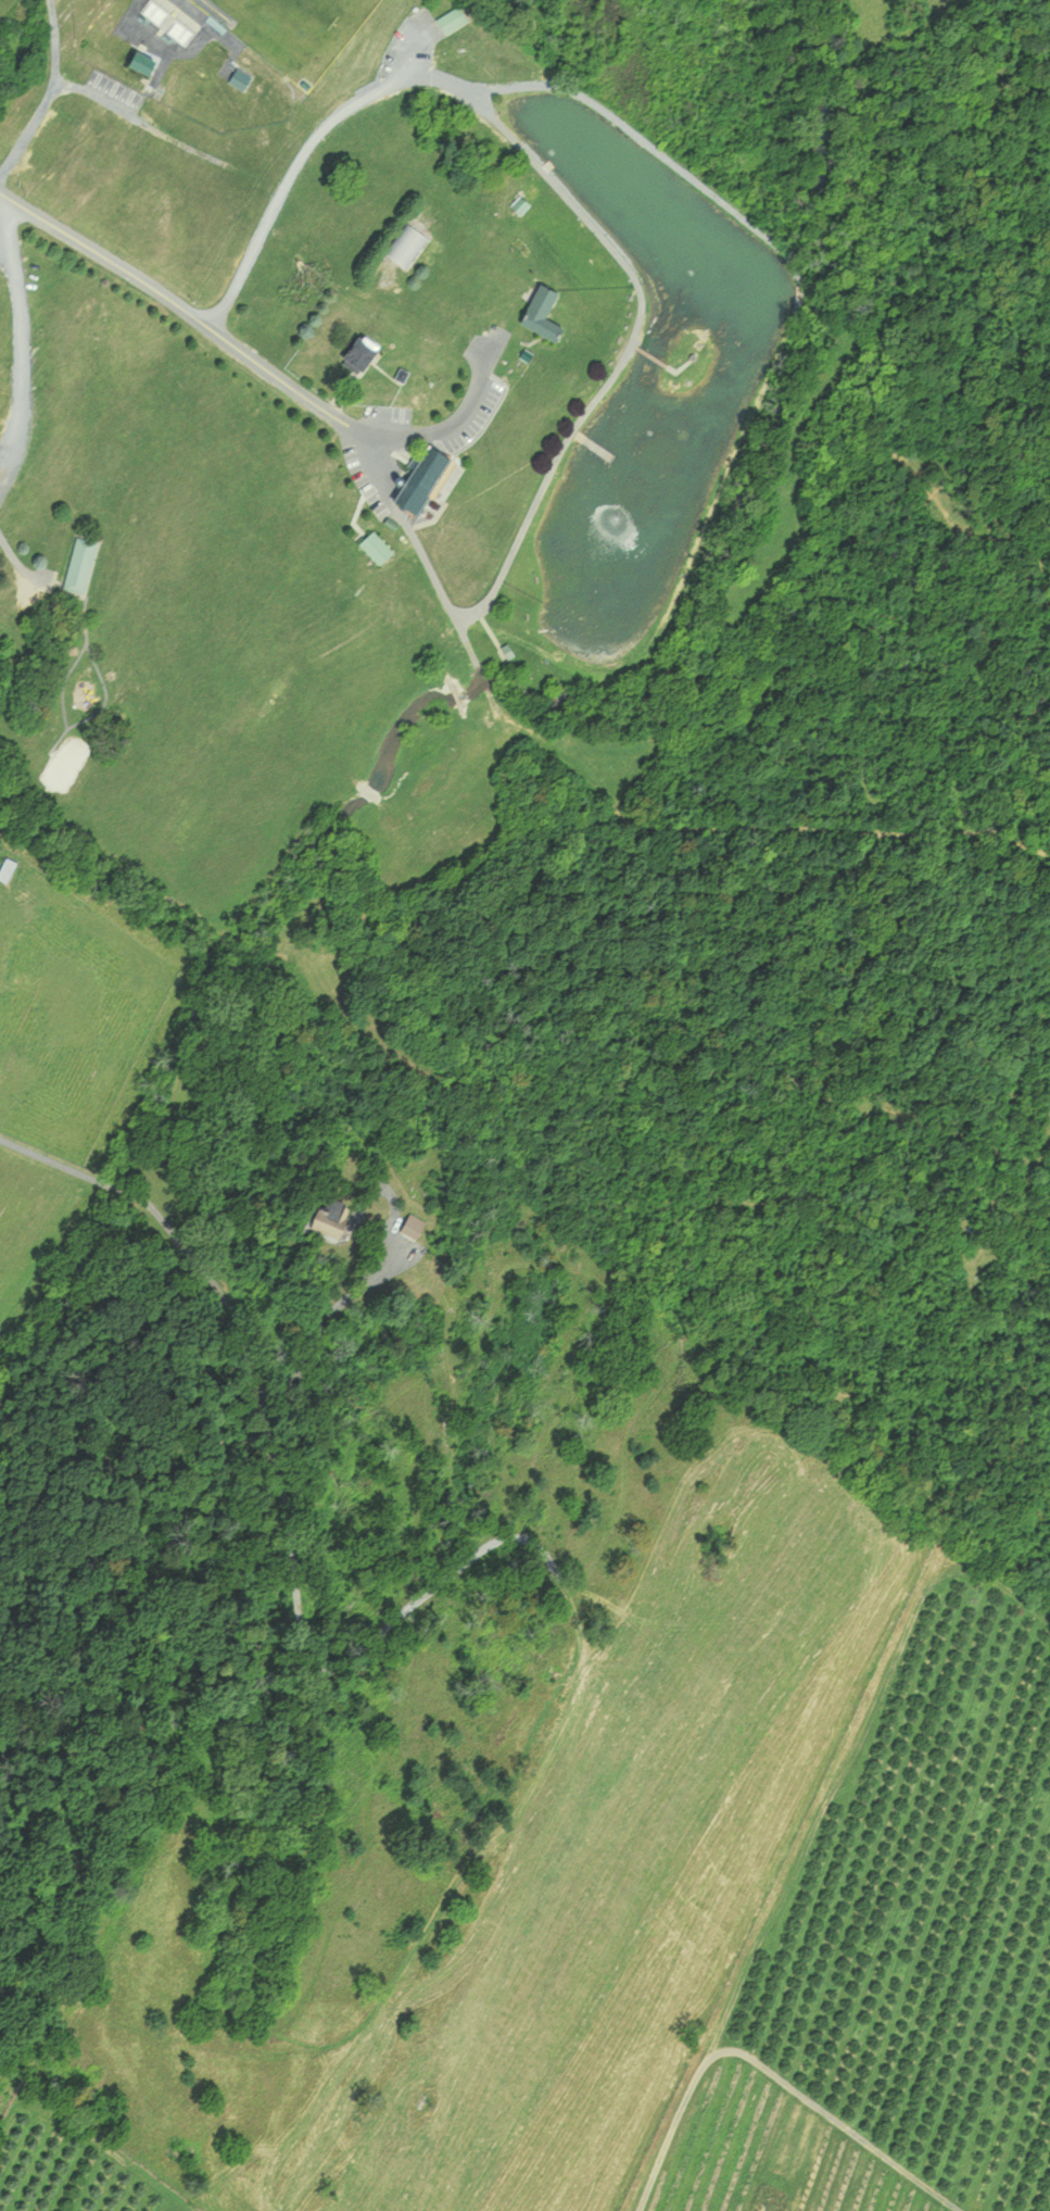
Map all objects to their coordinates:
building: (170, 18)
building: (454, 18)
building: (147, 61)
building: (242, 78)
road: (65, 83)
road: (298, 159)
building: (408, 242)
building: (547, 312)
building: (369, 350)
road: (255, 360)
building: (428, 479)
building: (379, 548)
building: (83, 564)
building: (8, 869)
building: (332, 1217)
road: (215, 1304)

